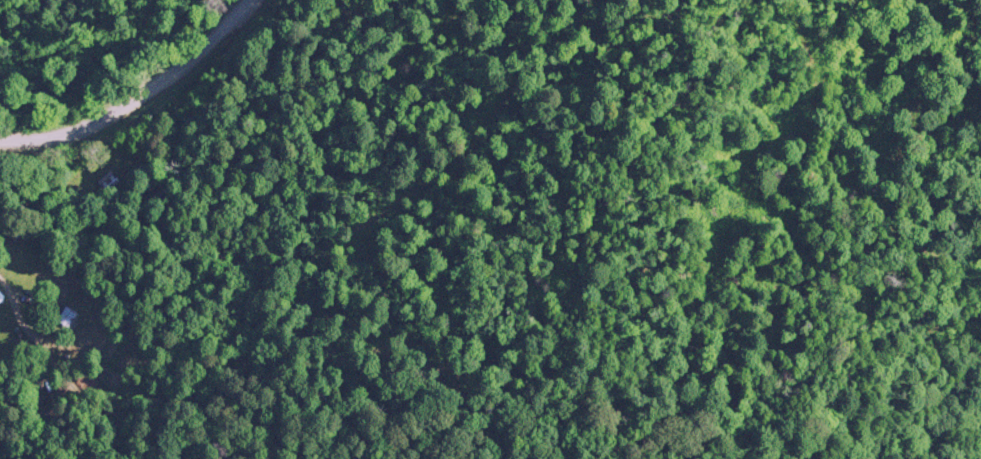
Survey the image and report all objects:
road: (139, 93)

